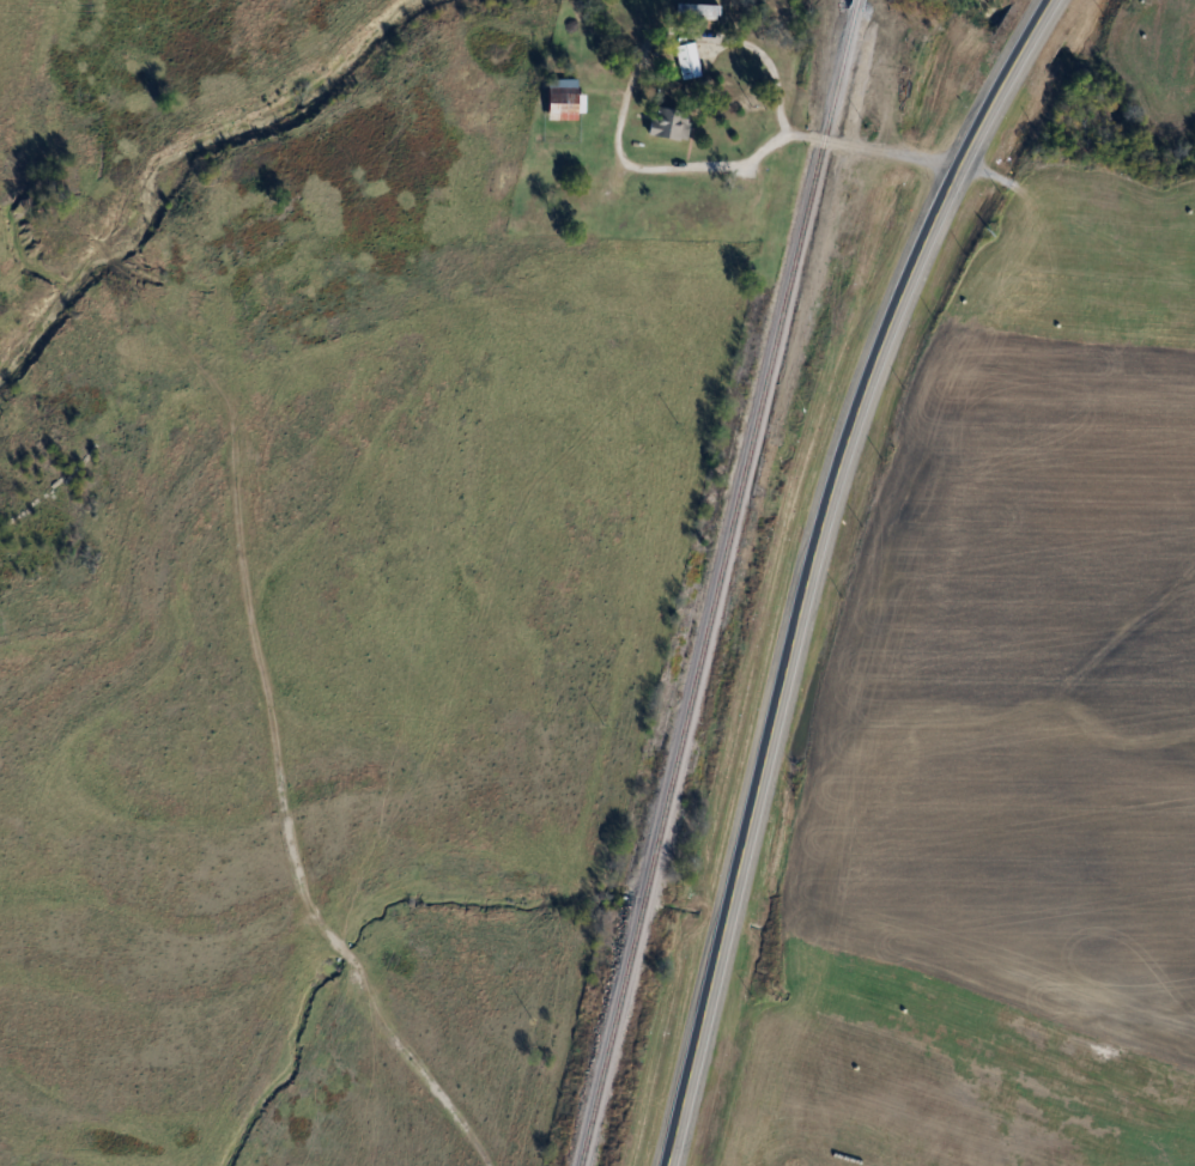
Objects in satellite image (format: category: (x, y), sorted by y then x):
building: (698, 11)
building: (689, 60)
road: (633, 62)
building: (566, 98)
building: (672, 123)
road: (892, 152)
road: (813, 560)
railway: (721, 582)
road: (669, 1161)

